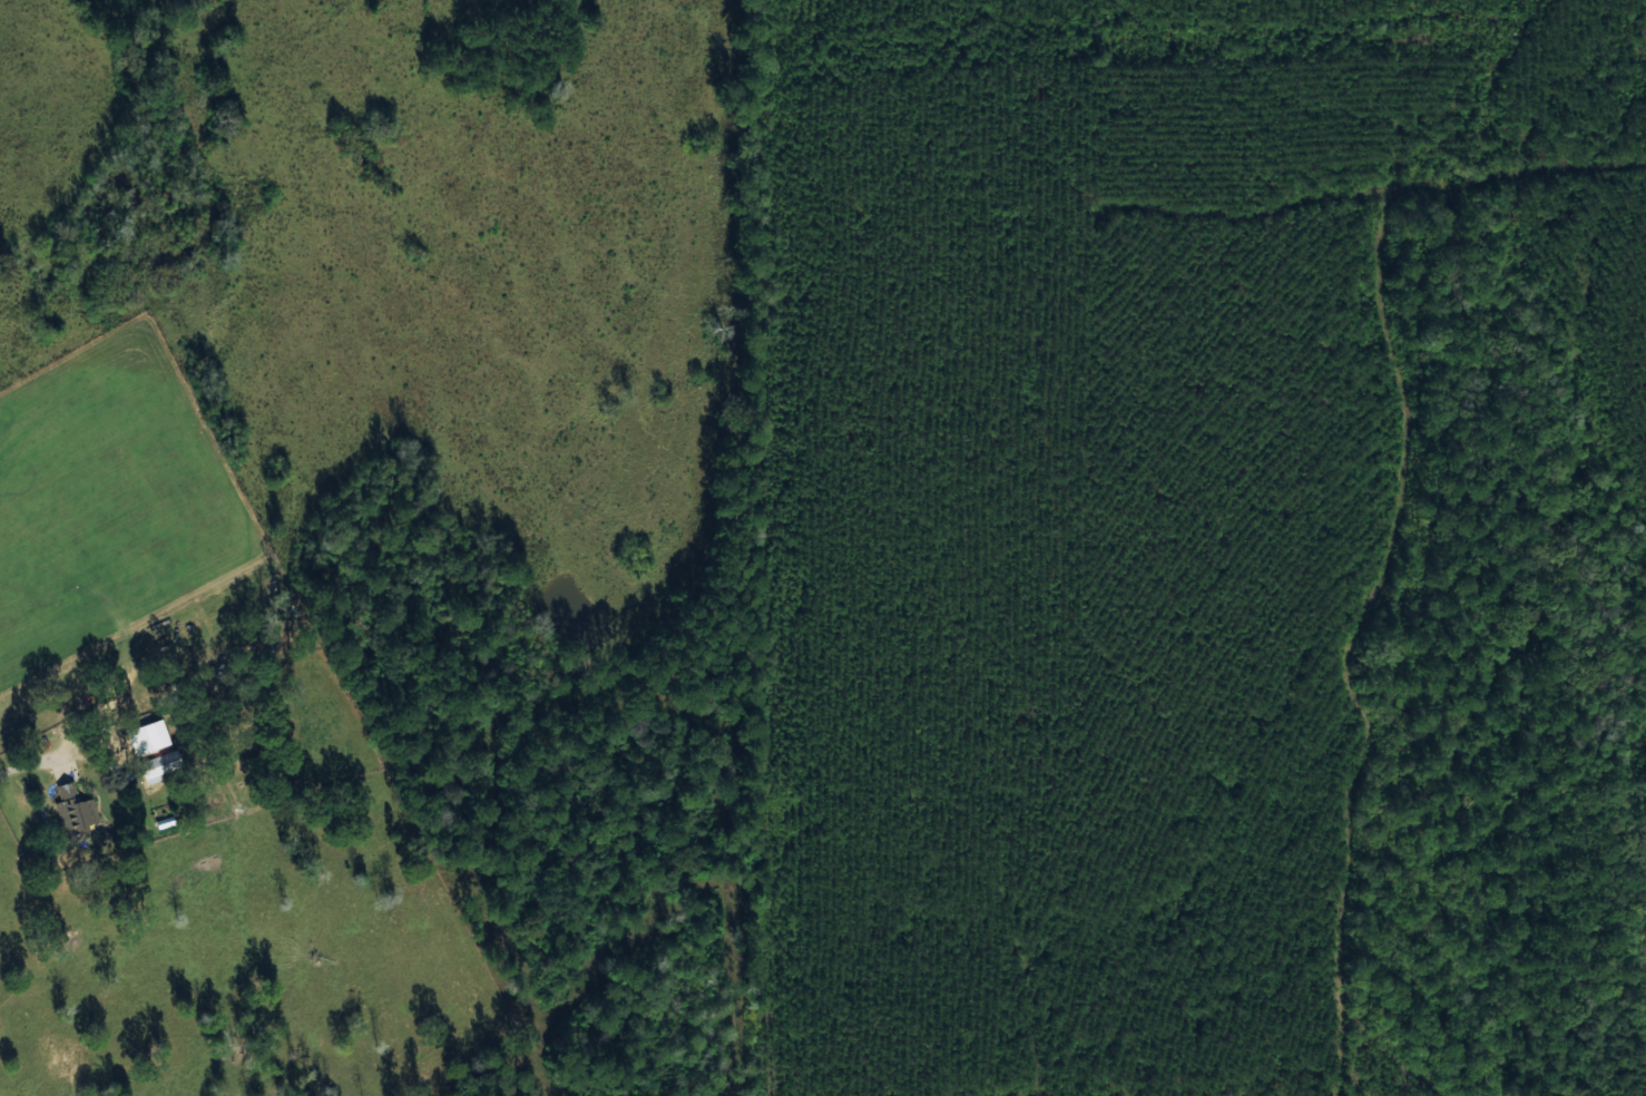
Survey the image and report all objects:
building: (156, 734)
building: (159, 765)
building: (75, 809)

